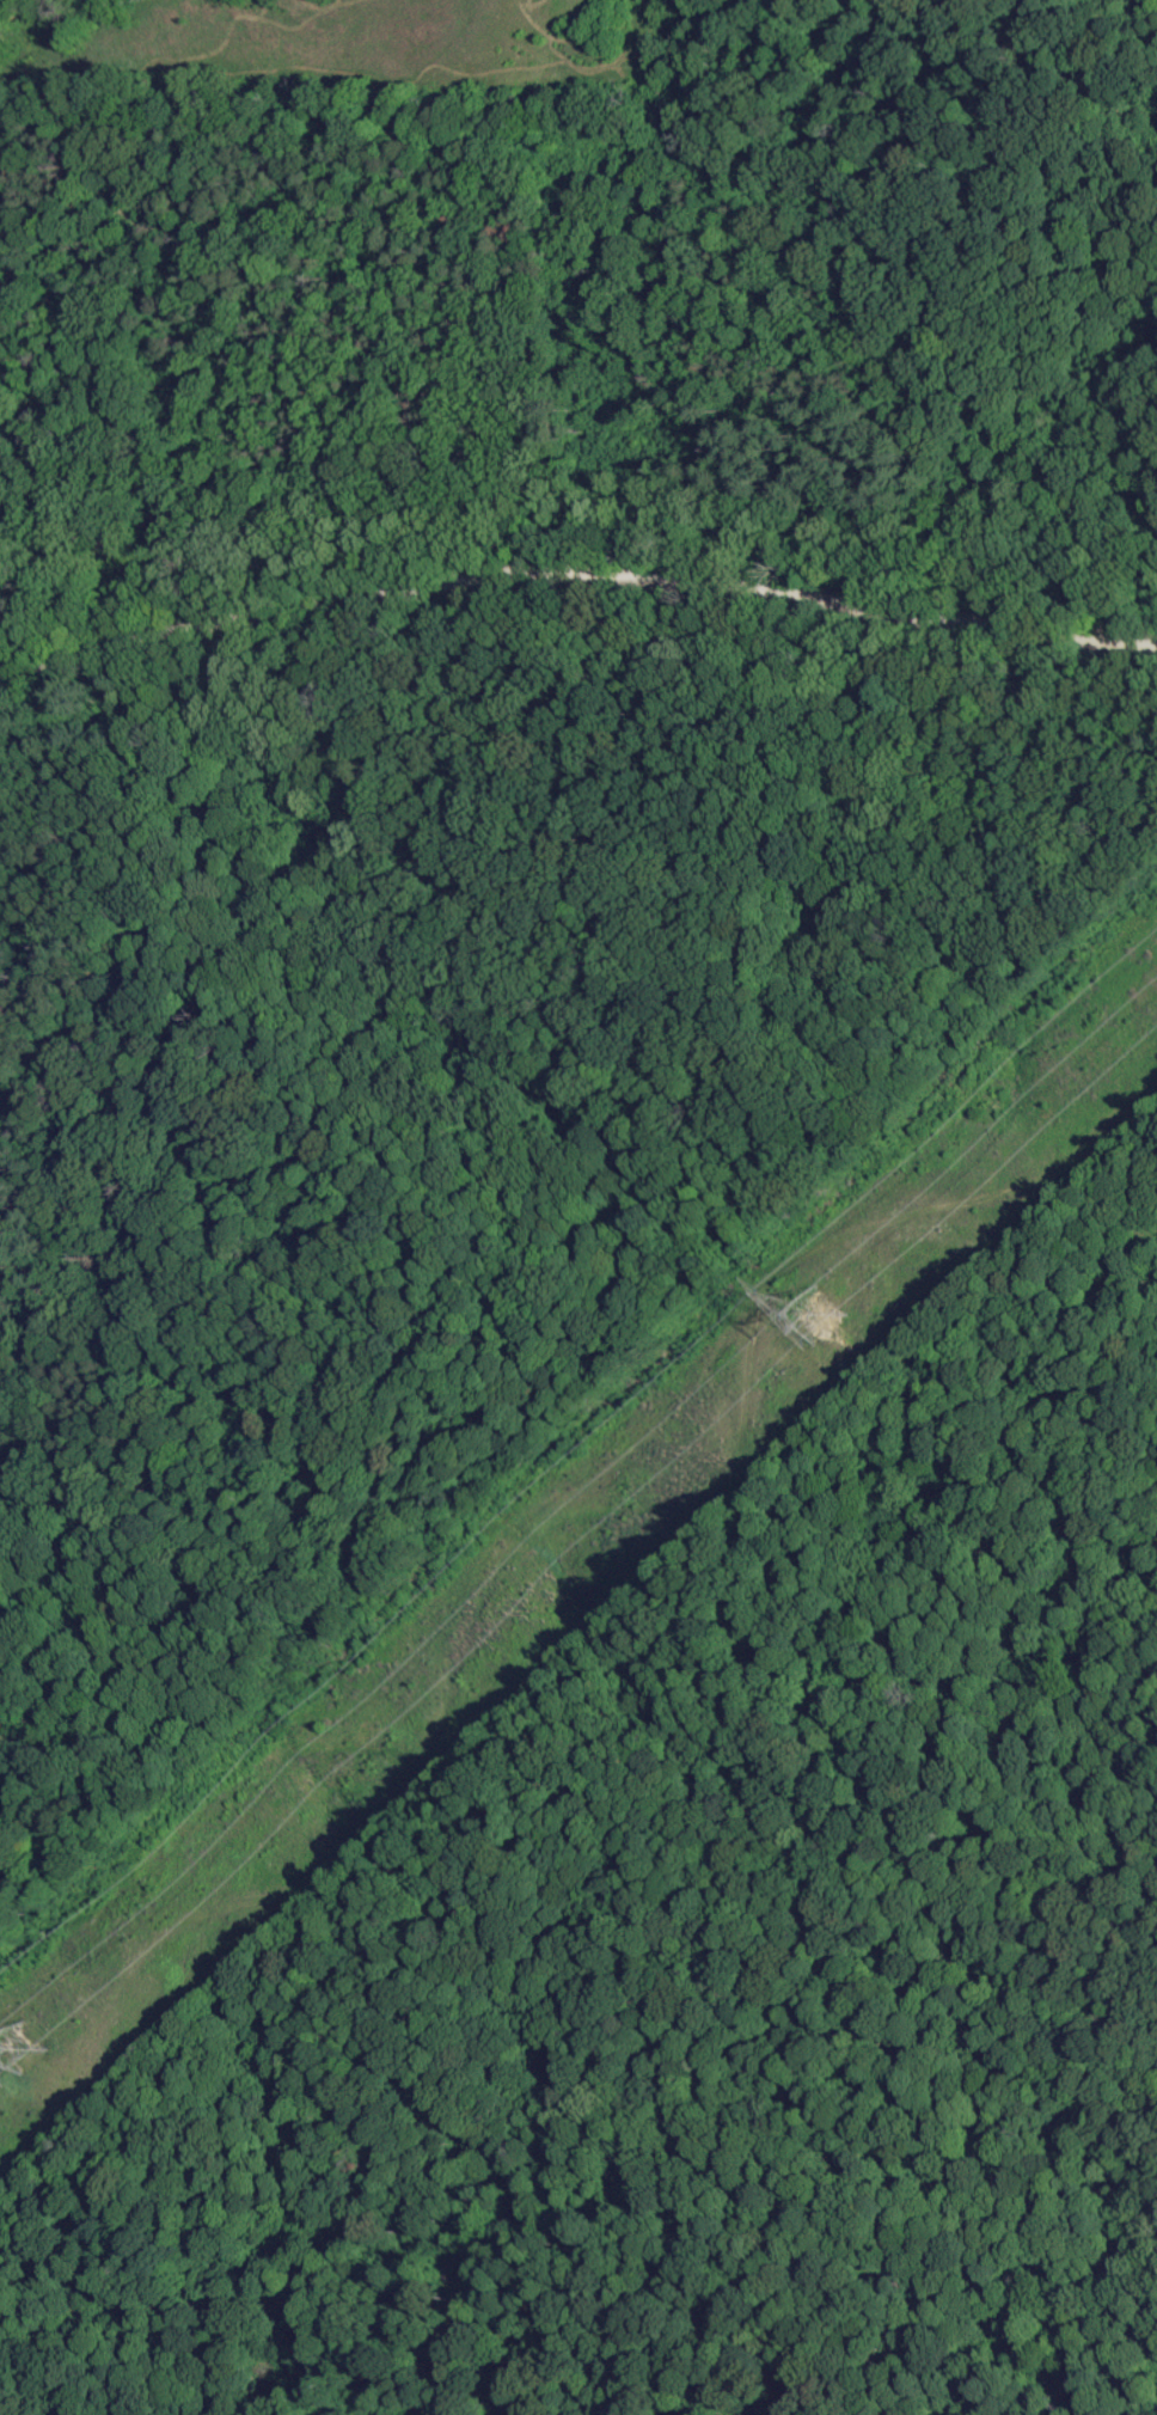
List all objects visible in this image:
road: (576, 601)
power tower: (820, 1325)
power tower: (16, 2049)

